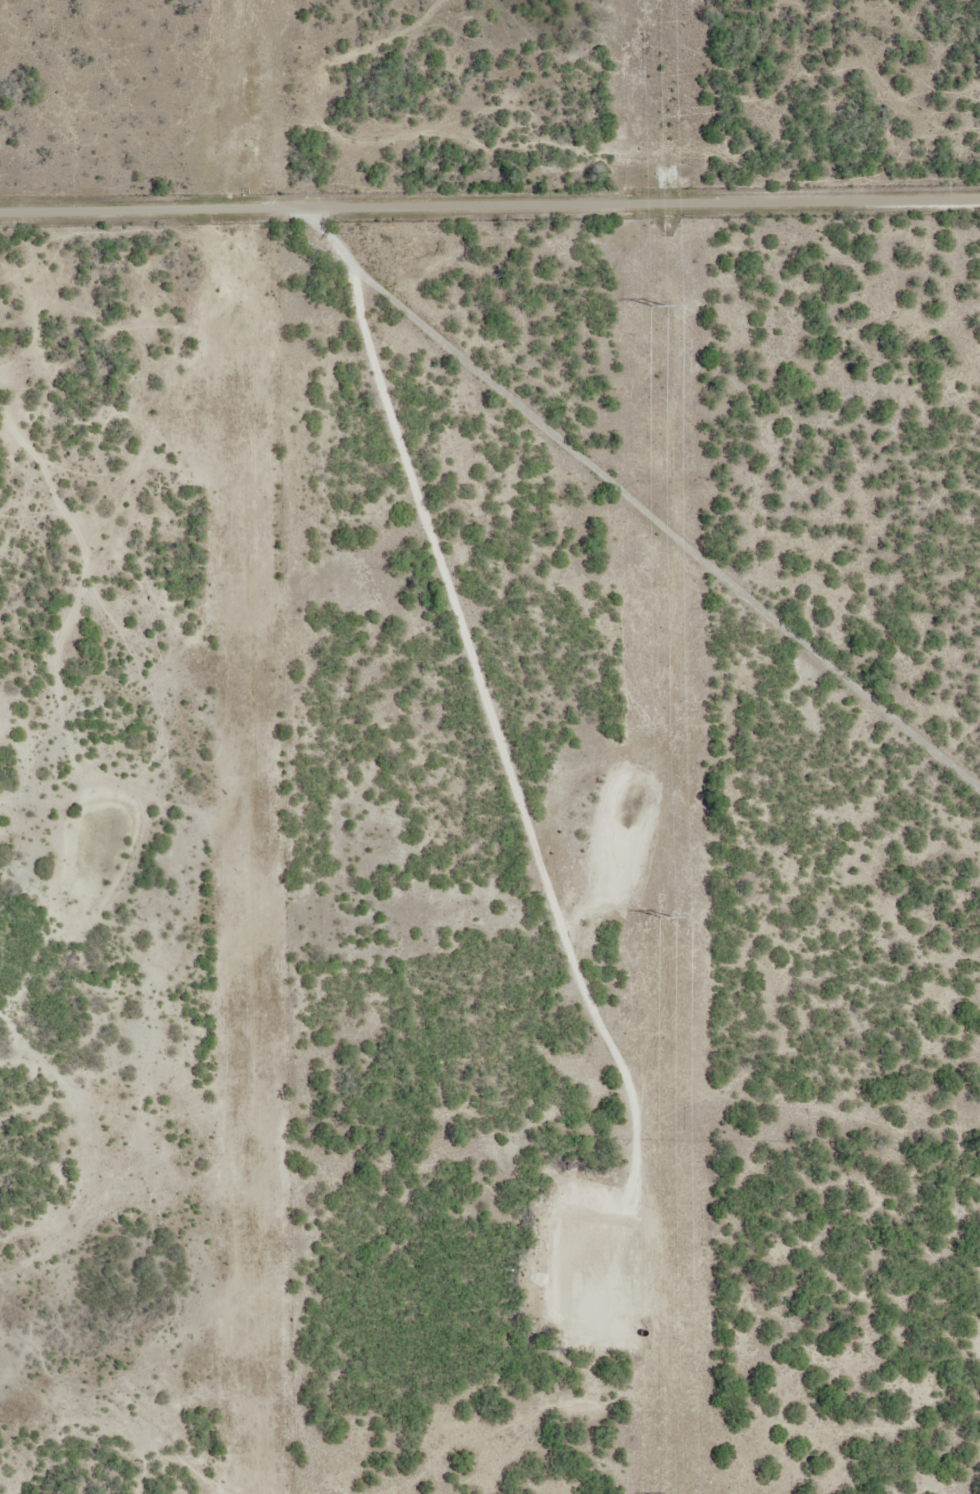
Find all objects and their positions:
road: (490, 209)
power tower: (662, 304)
road: (657, 468)
power tower: (667, 916)

